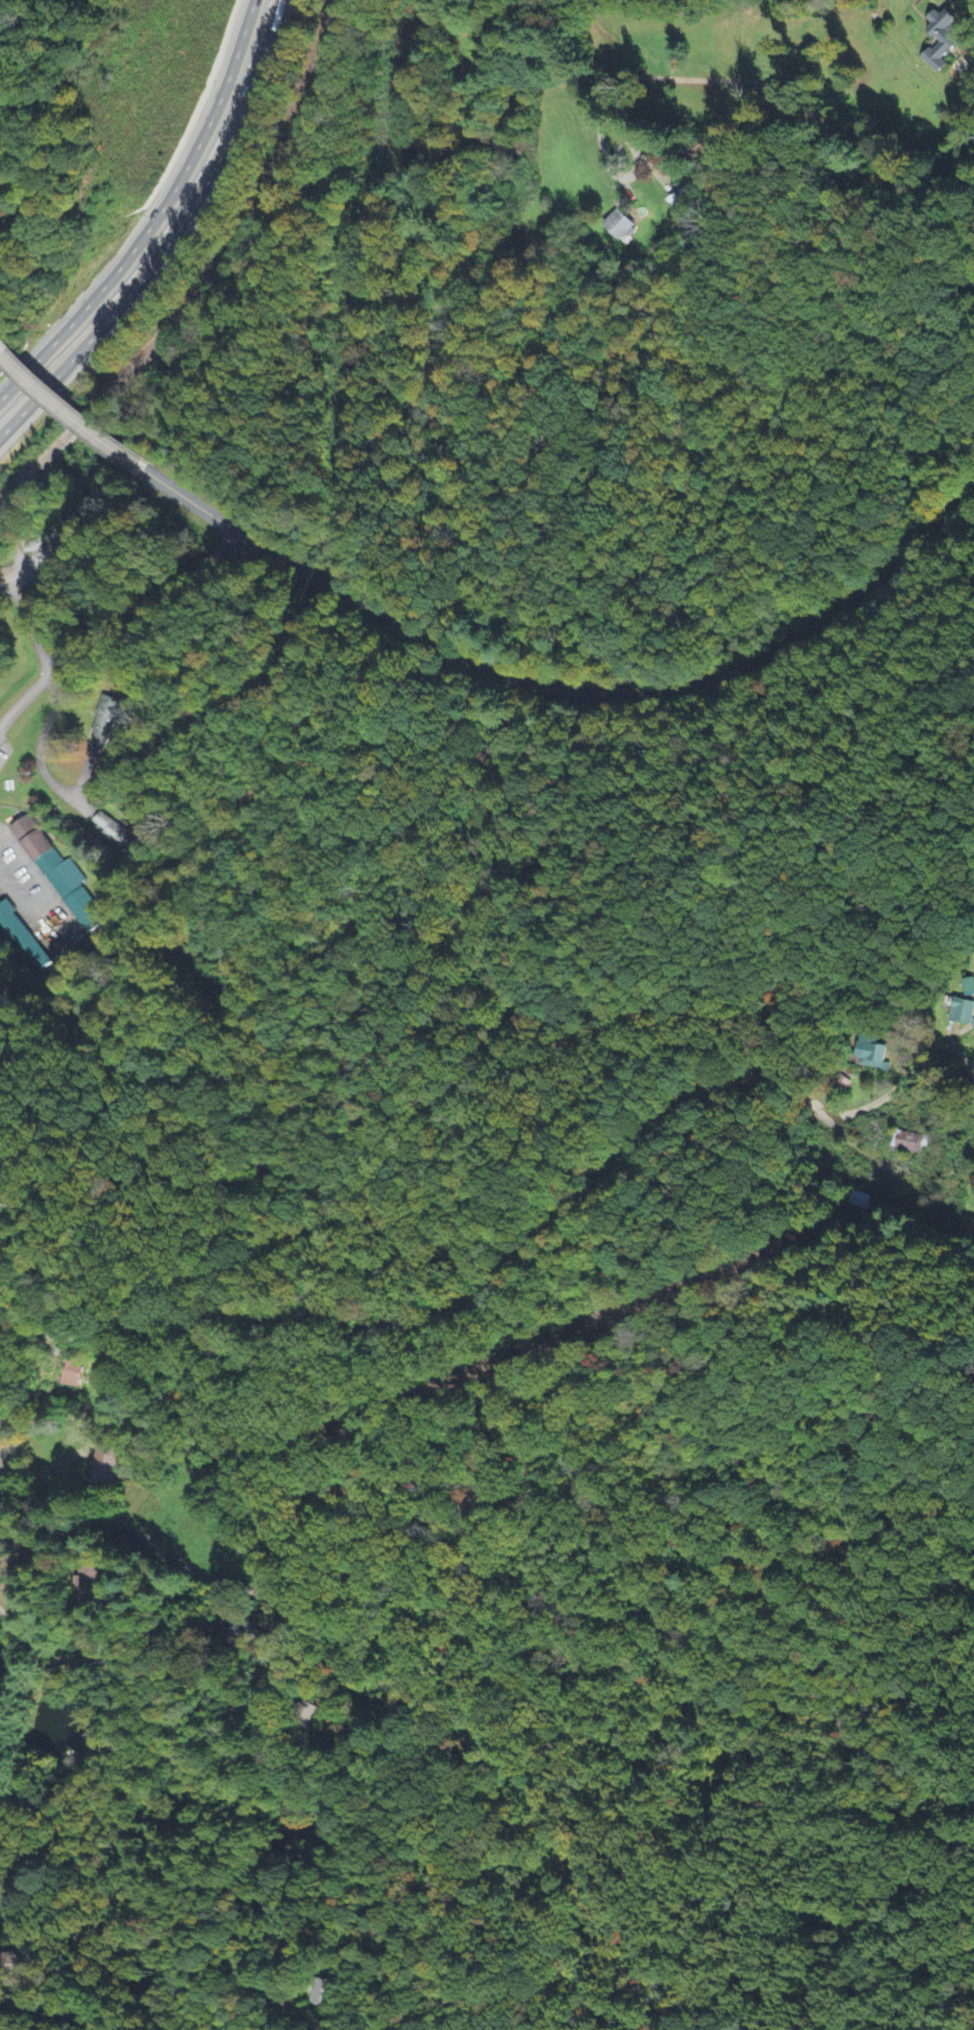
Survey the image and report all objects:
building: (943, 41)
road: (559, 45)
road: (789, 98)
building: (677, 204)
road: (155, 216)
building: (620, 227)
road: (171, 237)
railway: (210, 279)
road: (70, 411)
road: (184, 497)
road: (129, 579)
road: (17, 599)
road: (115, 624)
road: (38, 647)
road: (612, 699)
building: (102, 724)
building: (116, 836)
building: (60, 876)
building: (968, 988)
building: (961, 1012)
building: (874, 1058)
road: (756, 1078)
road: (523, 1082)
building: (908, 1142)
road: (92, 1167)
road: (162, 1304)
road: (335, 1318)
road: (45, 1331)
building: (72, 1377)
road: (1, 1430)
road: (1, 1449)
building: (106, 1469)
road: (1, 1493)
road: (32, 1554)
road: (13, 1647)
road: (267, 1676)
building: (324, 1993)
road: (54, 2009)

